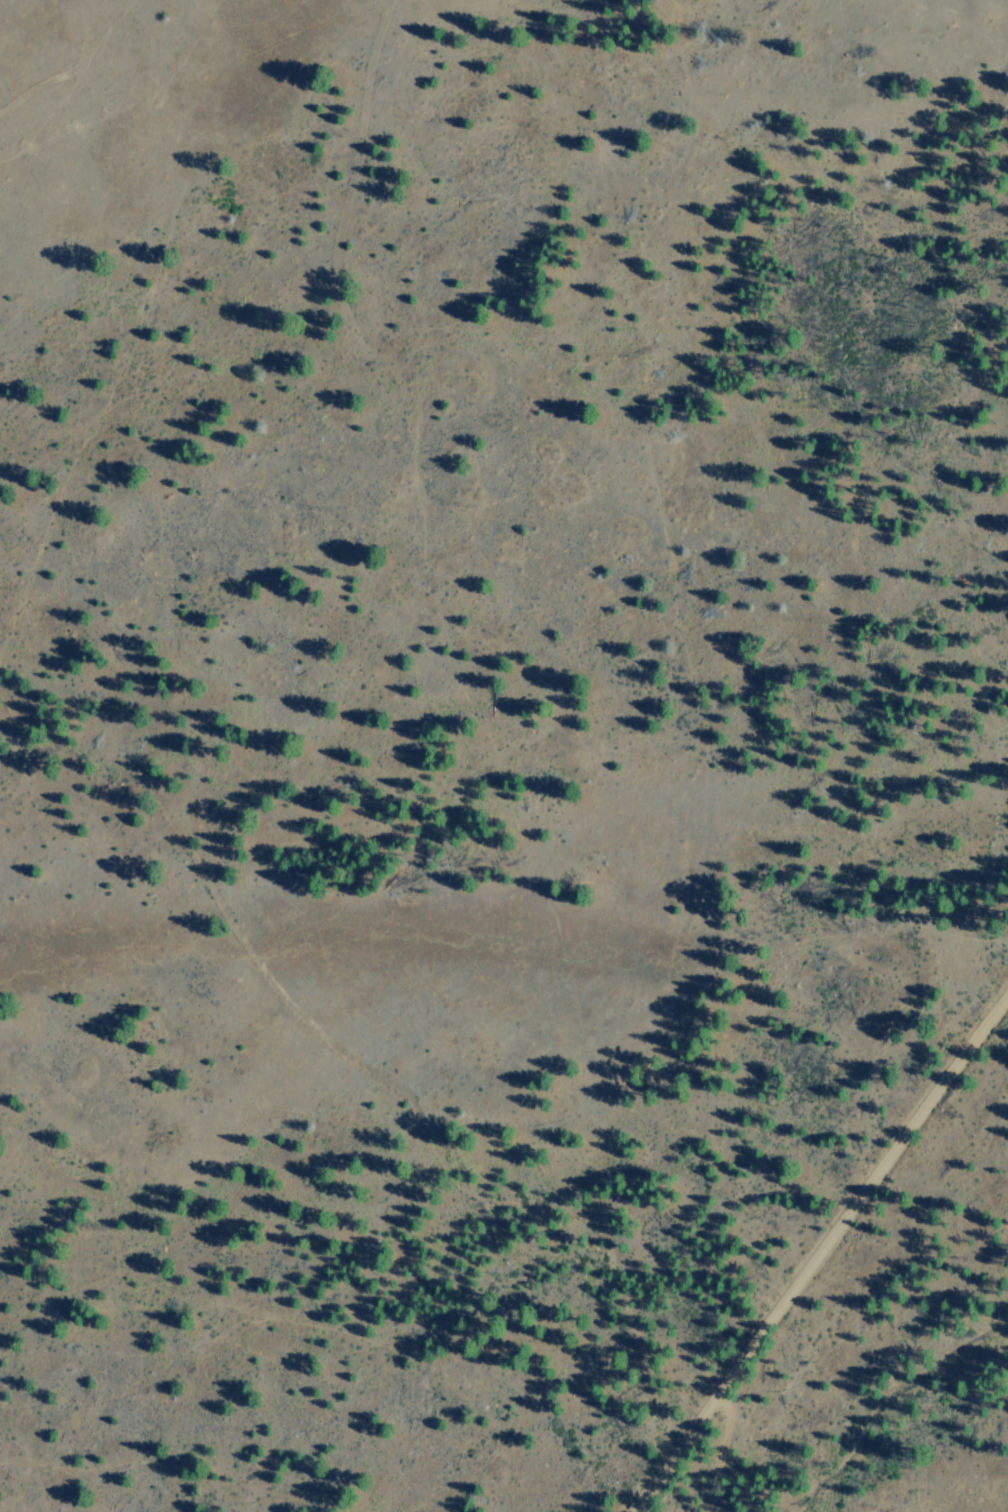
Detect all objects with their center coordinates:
road: (790, 1223)

